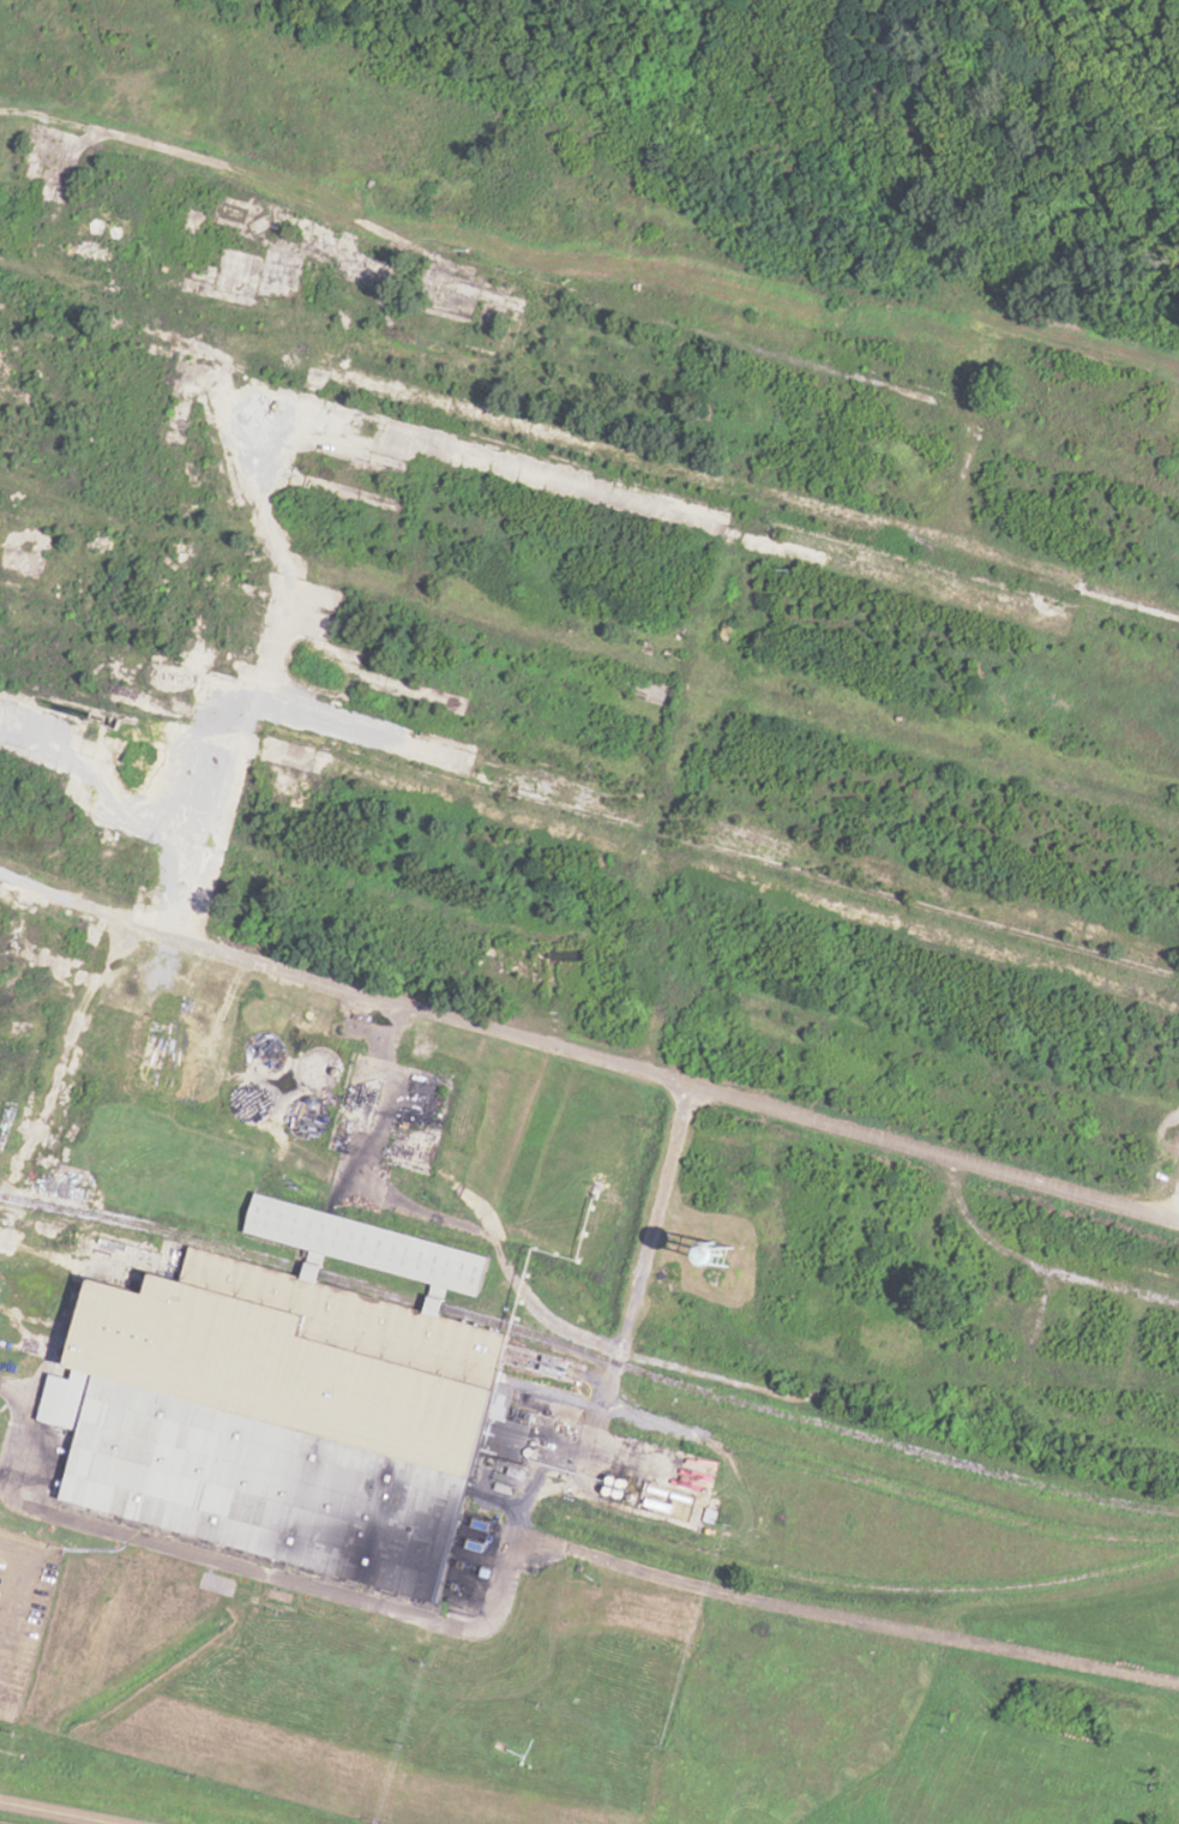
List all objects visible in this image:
building: (271, 278)
road: (94, 996)
road: (589, 1055)
road: (1177, 1214)
building: (366, 1244)
road: (646, 1276)
railway: (589, 1352)
building: (284, 1417)
building: (525, 1482)
building: (704, 1514)
road: (507, 1550)
road: (60, 1811)

